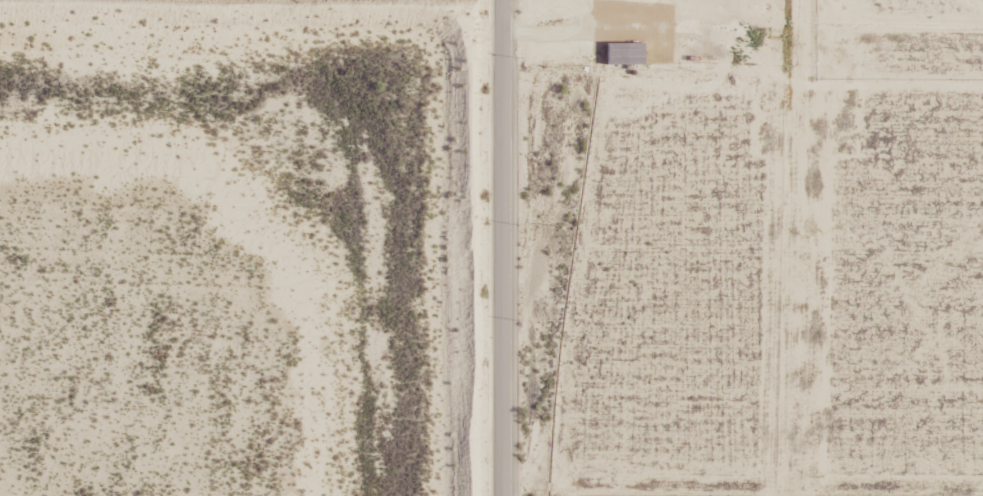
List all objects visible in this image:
road: (736, 10)
building: (624, 54)
road: (490, 247)

